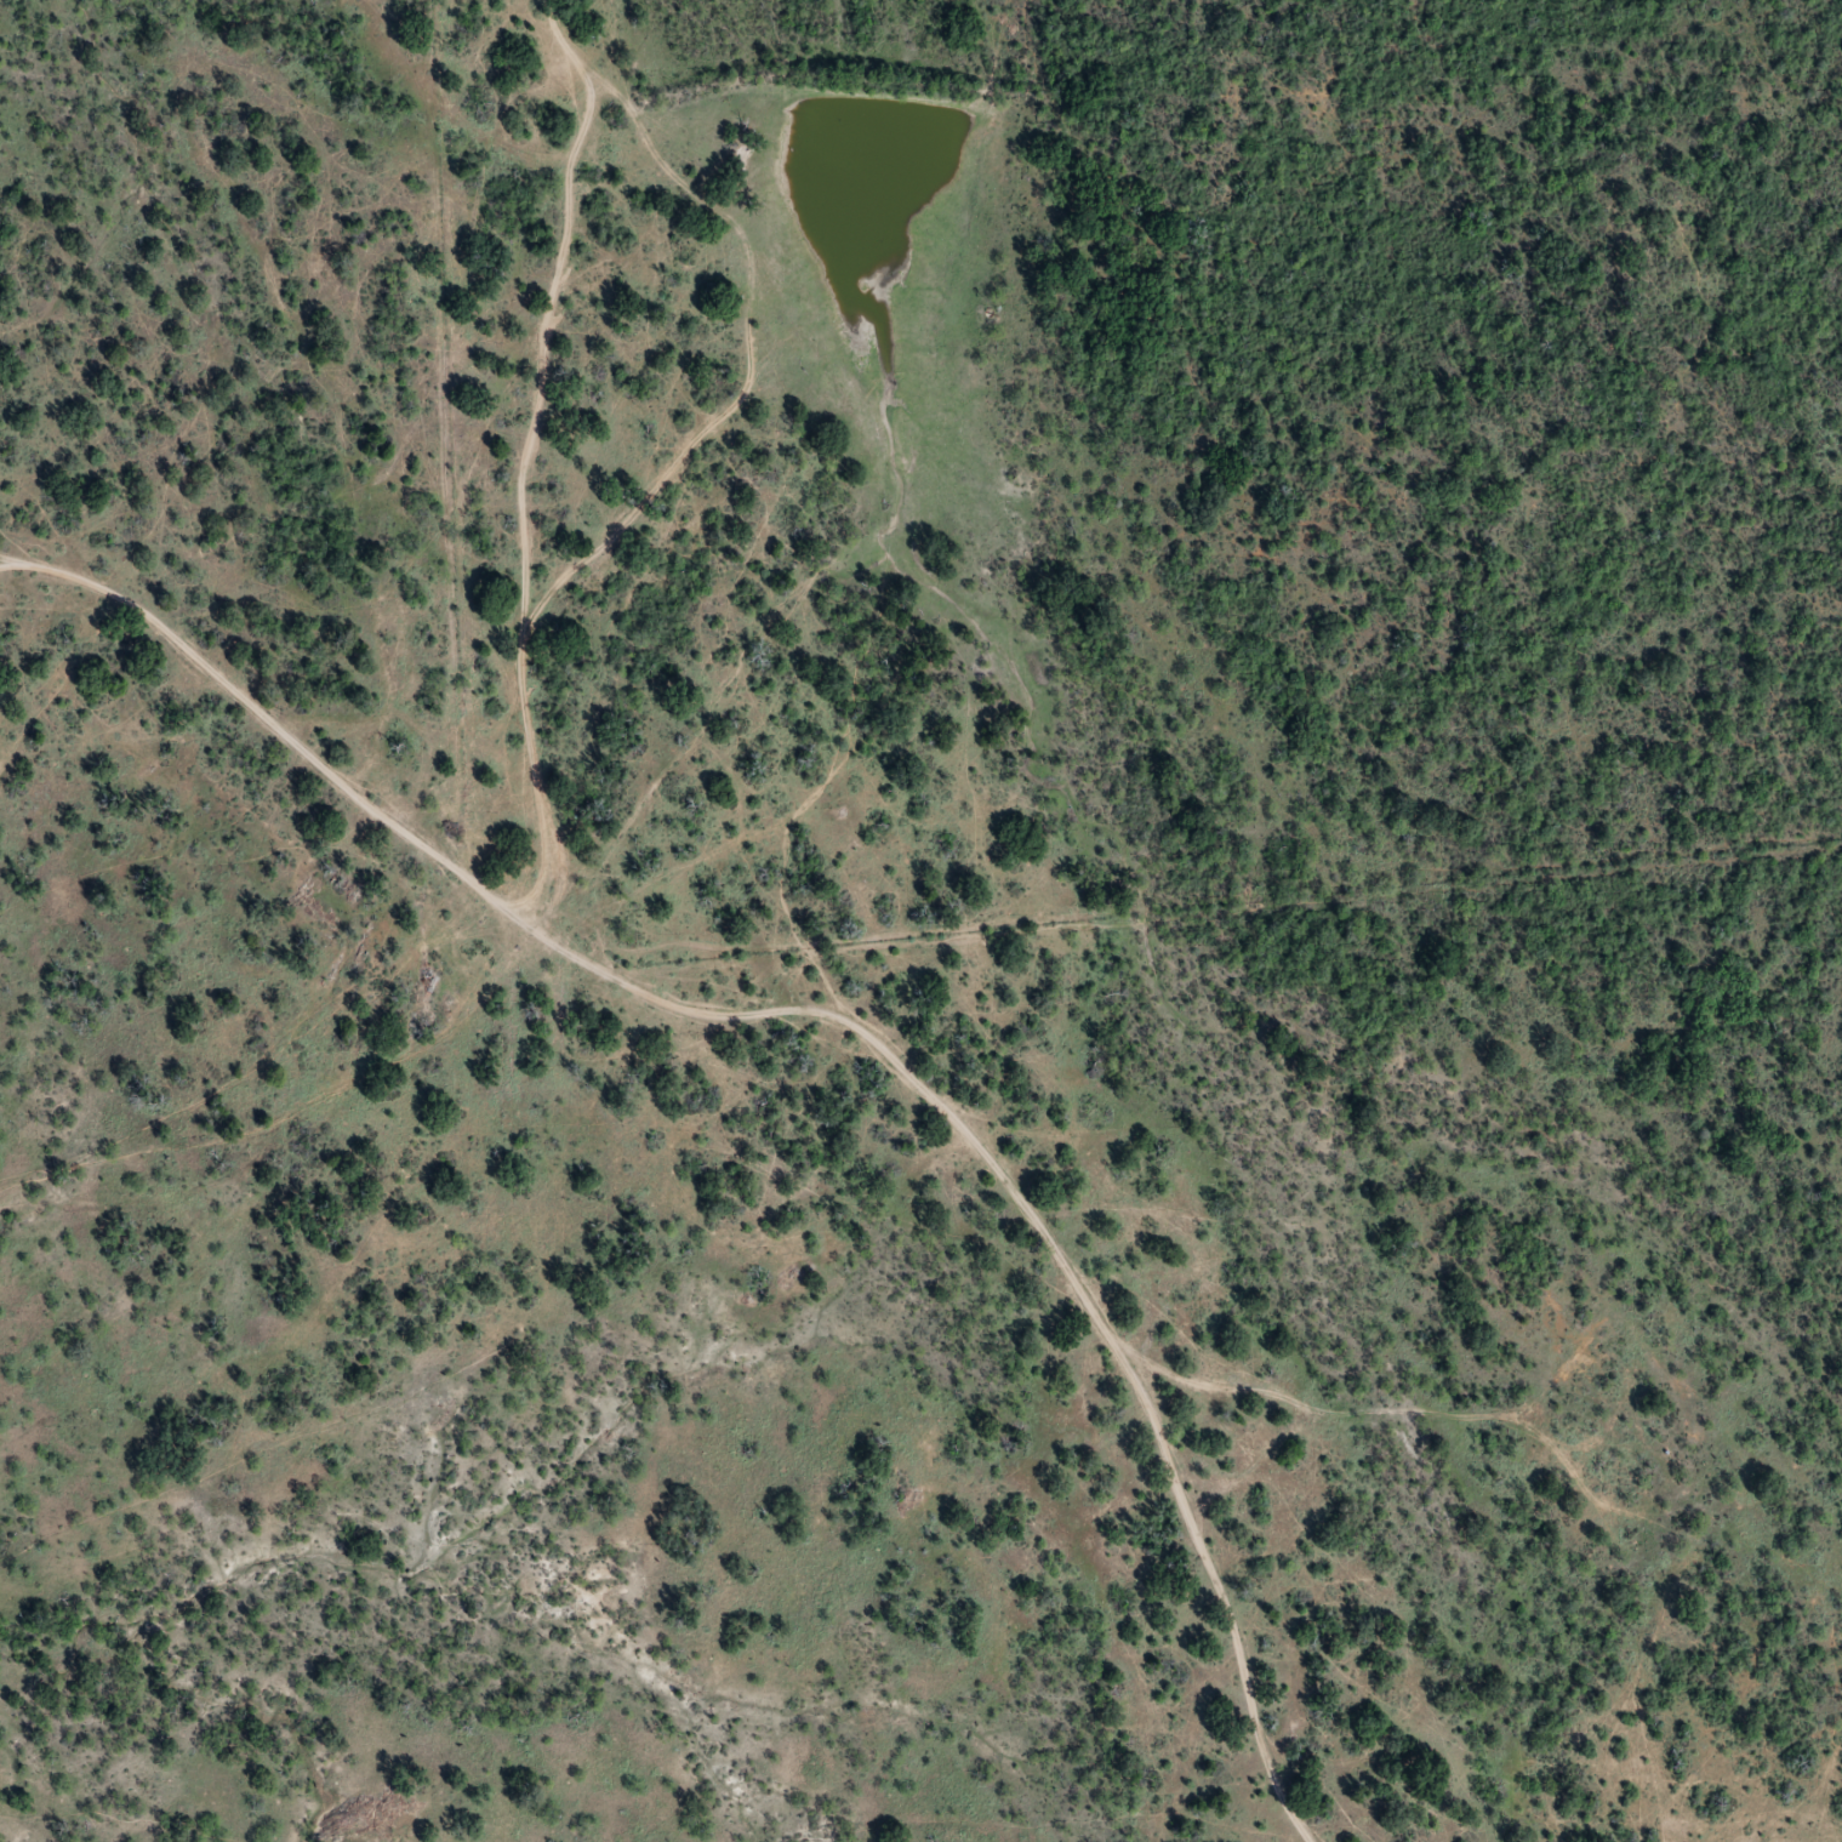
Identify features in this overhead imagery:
road: (33, 544)
road: (831, 1027)

